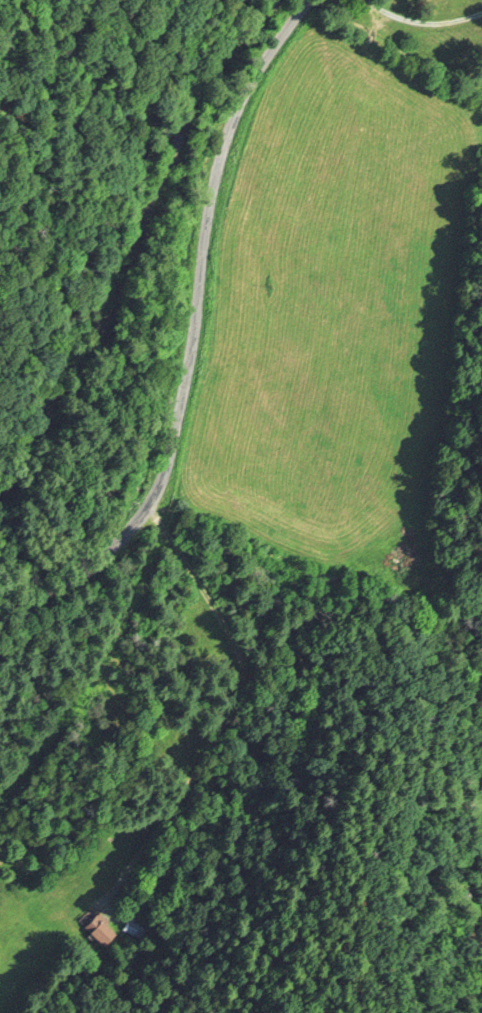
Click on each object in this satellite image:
road: (420, 24)
road: (187, 333)
road: (225, 708)
building: (129, 925)
building: (98, 929)

